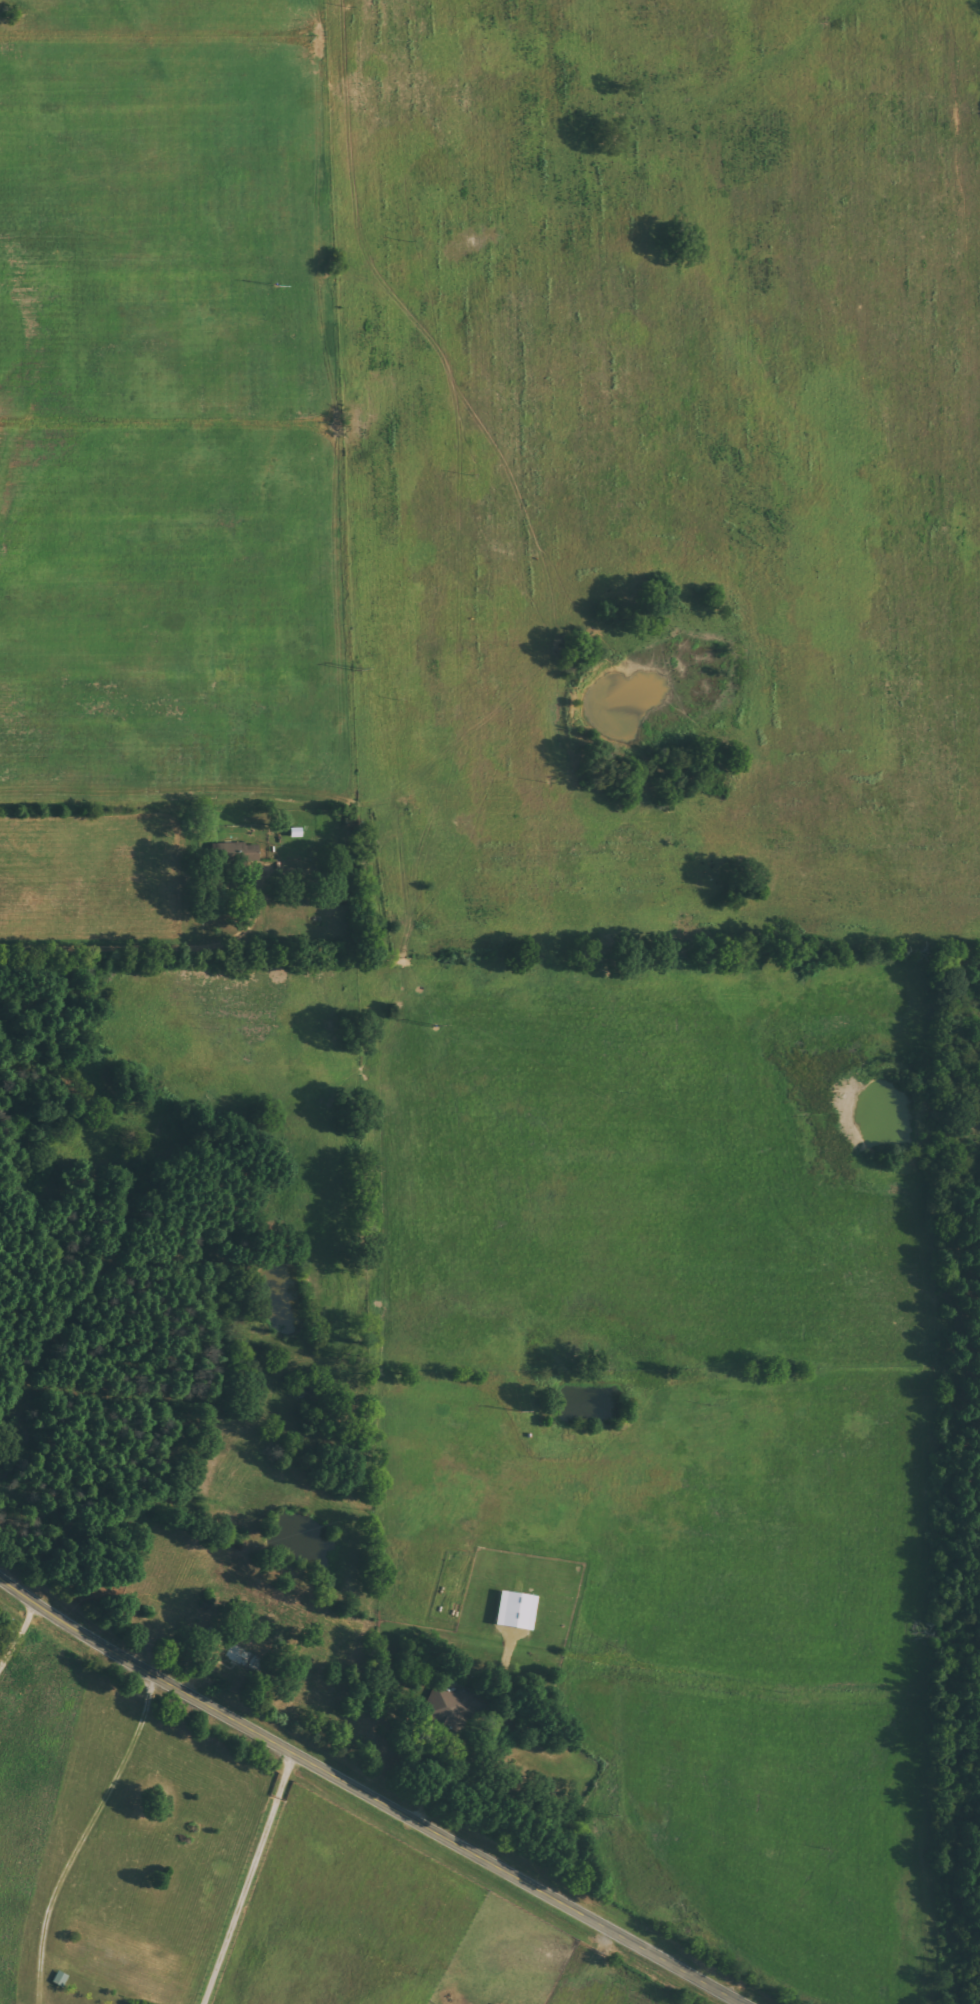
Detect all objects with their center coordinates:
power tower: (270, 281)
power tower: (353, 666)
road: (149, 948)
power tower: (432, 1025)
power tower: (515, 1410)
building: (511, 1612)
road: (23, 1633)
road: (374, 1791)
power tower: (602, 1815)

